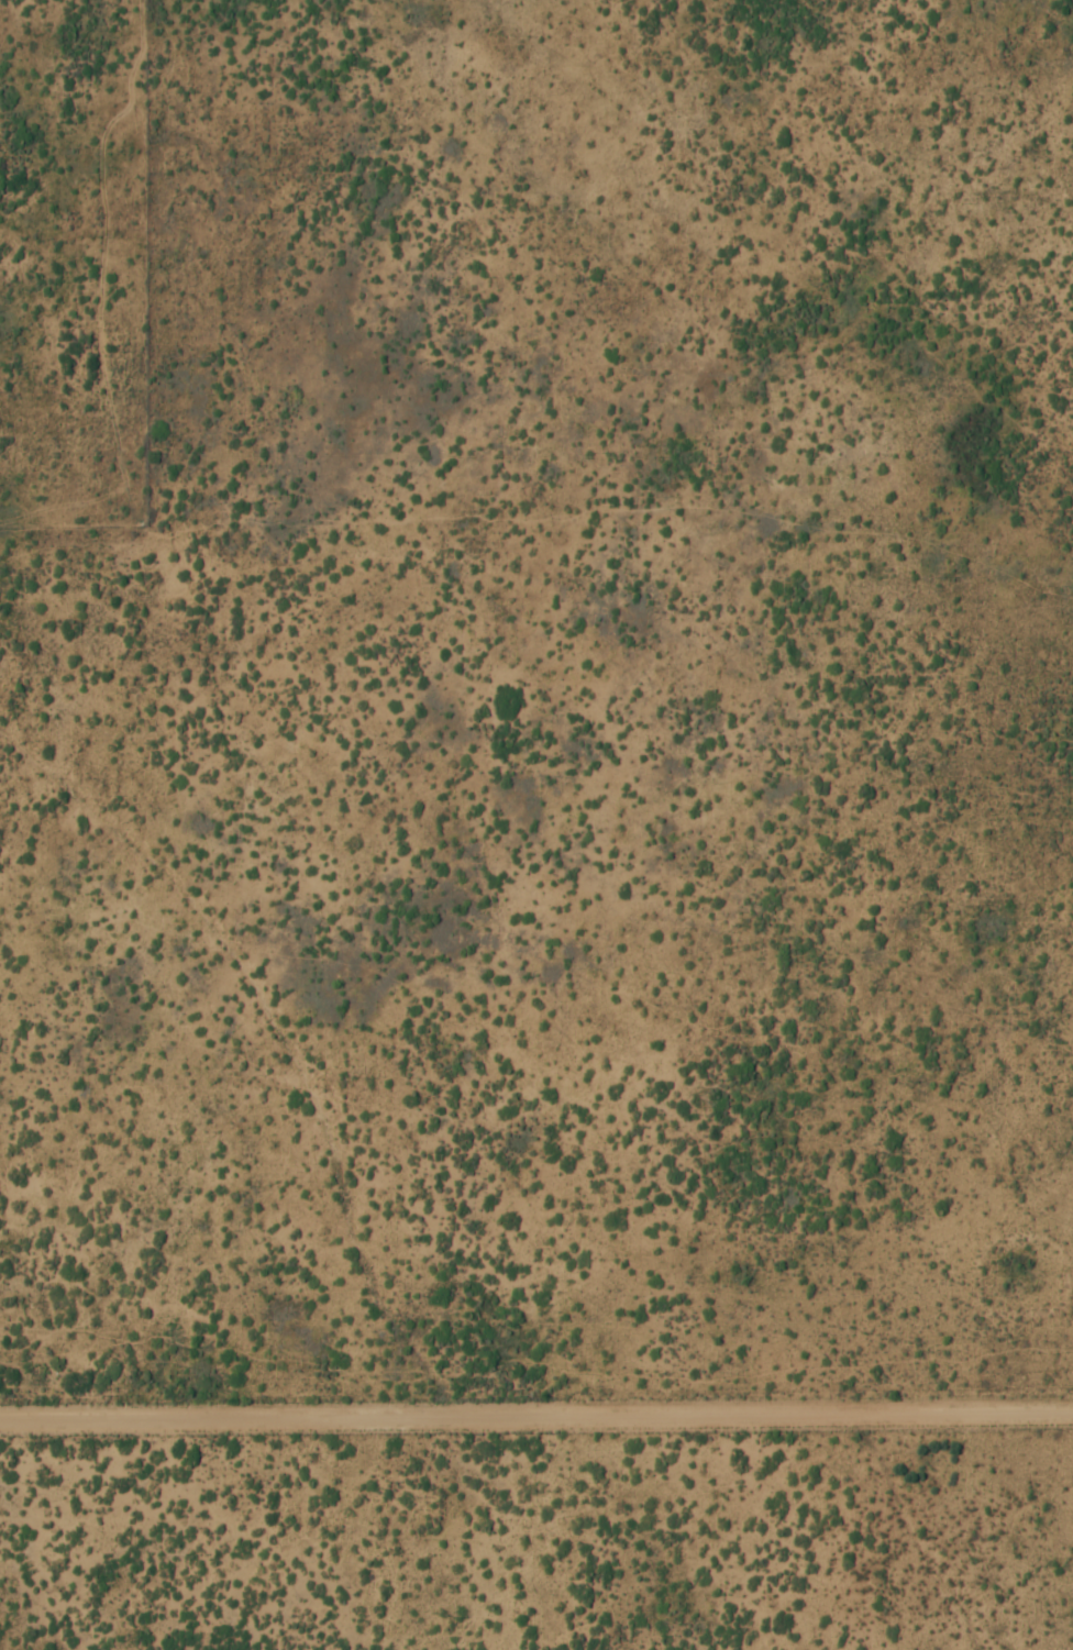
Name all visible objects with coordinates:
road: (536, 1417)
road: (903, 1537)

